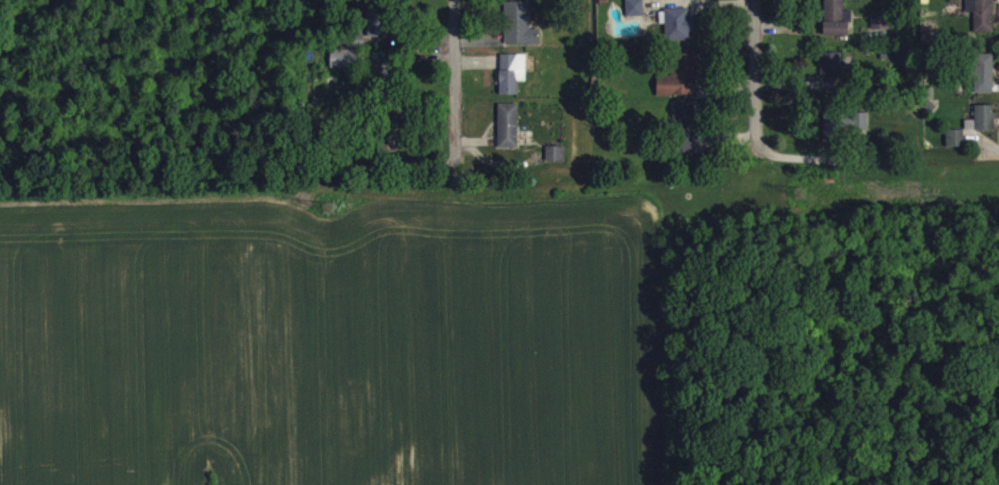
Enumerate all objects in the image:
building: (635, 15)
building: (983, 20)
building: (837, 25)
building: (379, 28)
building: (882, 29)
building: (521, 32)
building: (679, 32)
building: (344, 66)
road: (455, 69)
building: (832, 72)
road: (758, 77)
building: (512, 81)
building: (984, 81)
building: (680, 85)
building: (843, 131)
building: (509, 134)
building: (684, 136)
building: (956, 146)
building: (555, 162)
power tower: (797, 192)

